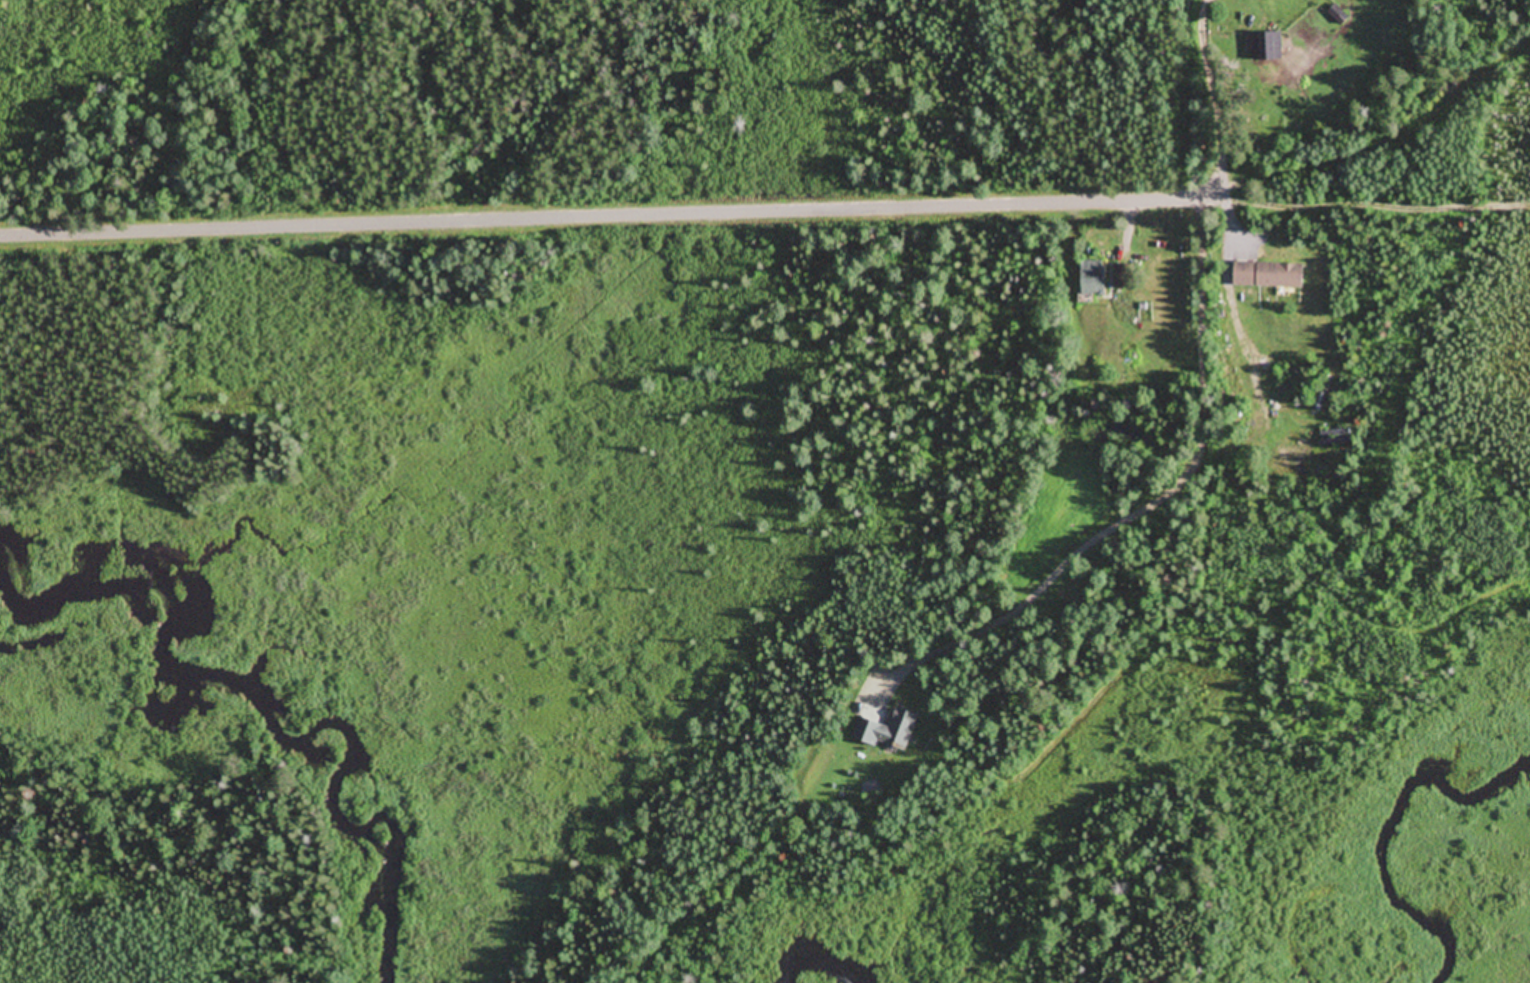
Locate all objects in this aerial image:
building: (1275, 47)
park: (134, 114)
road: (608, 217)
building: (1271, 276)
building: (1095, 279)
building: (890, 732)

